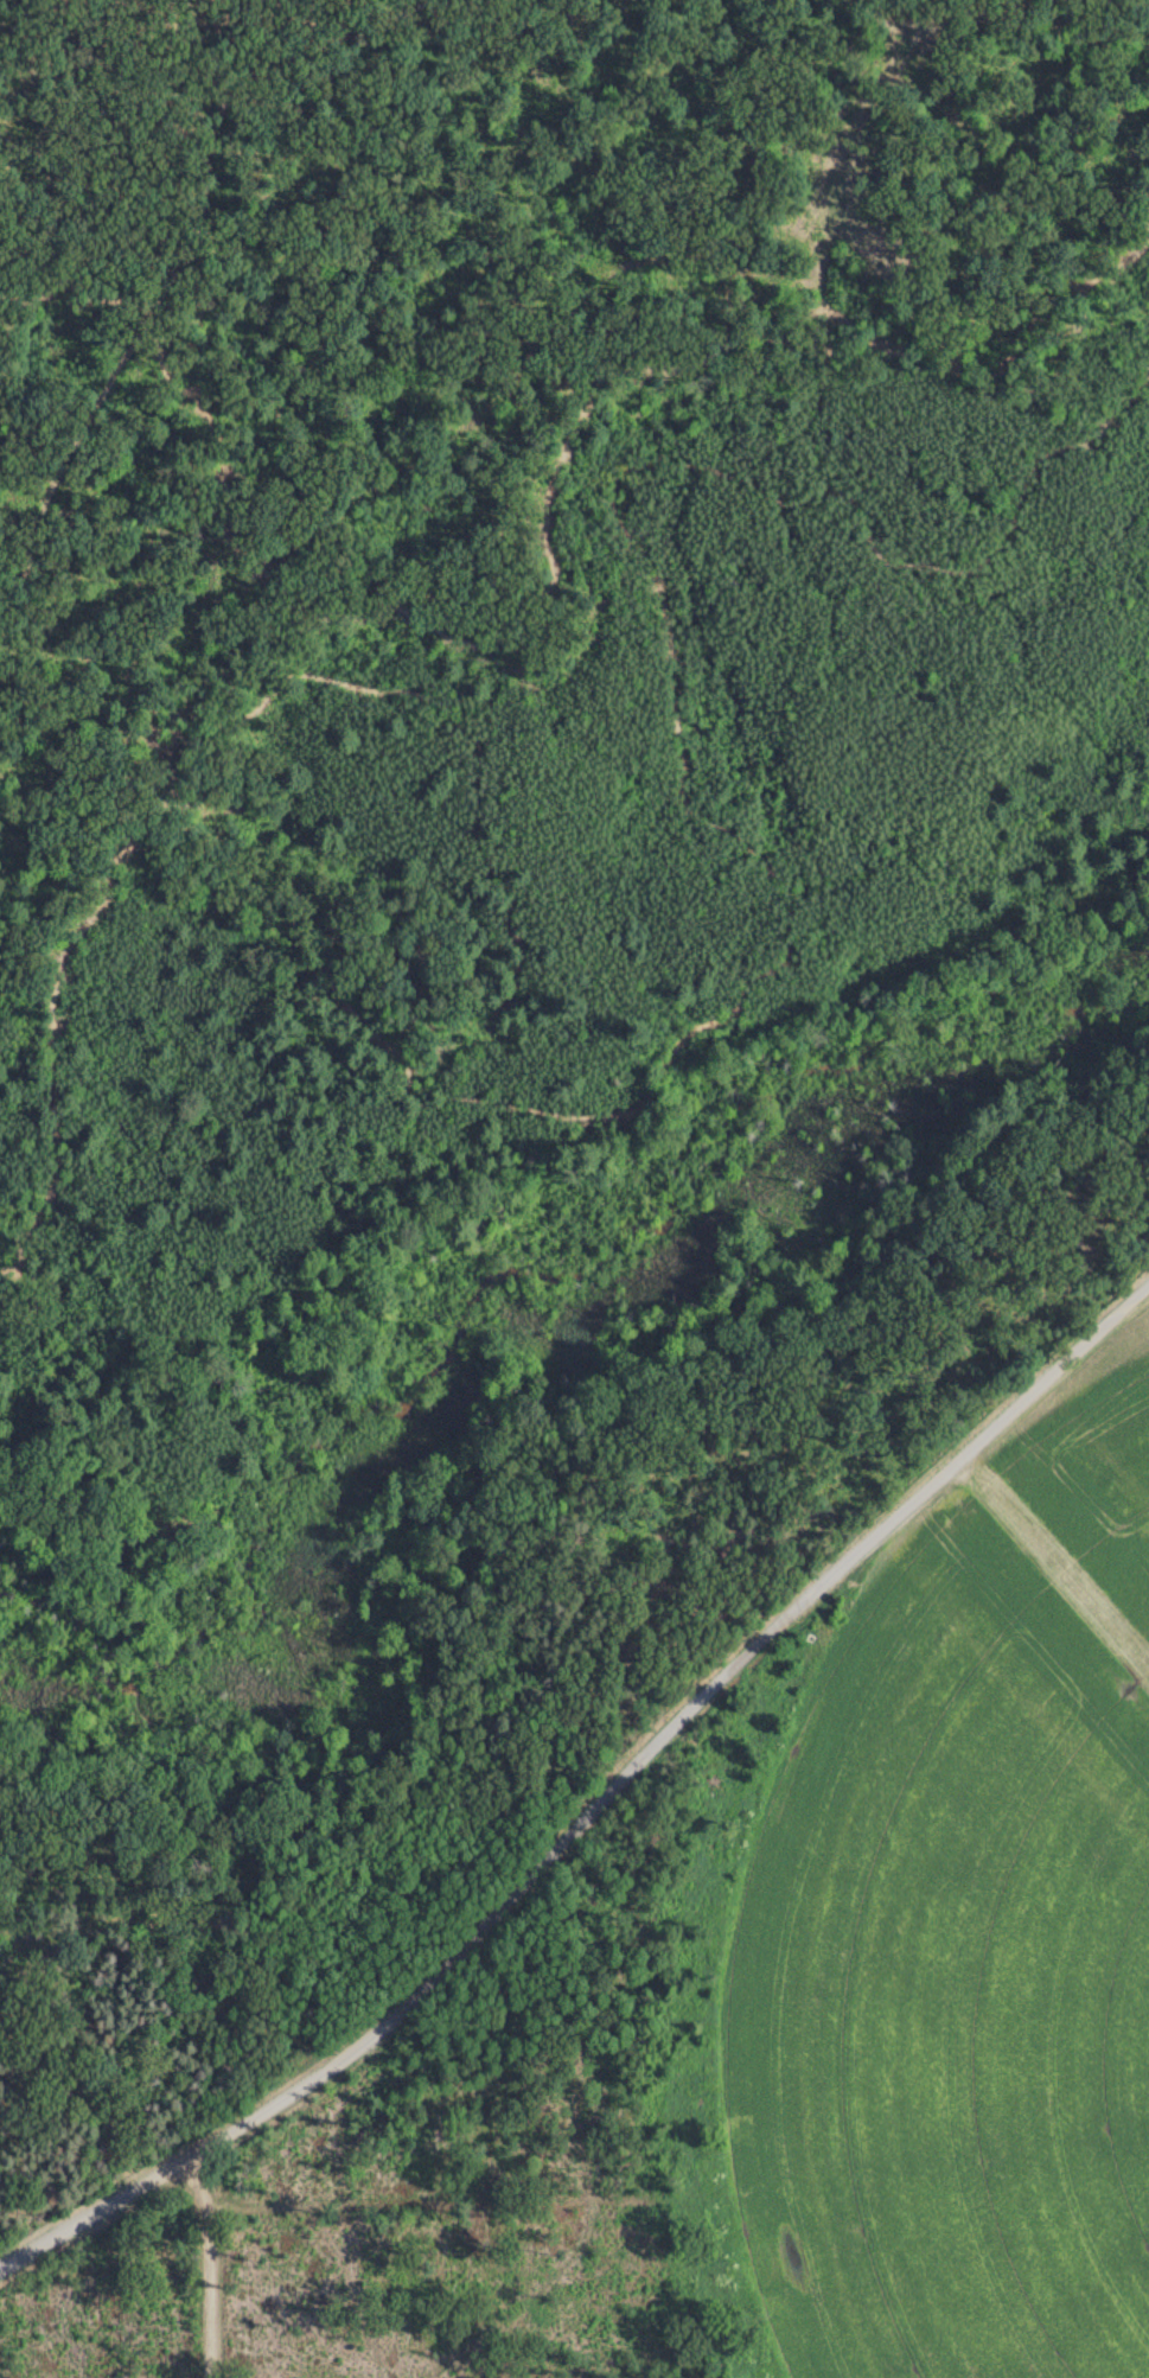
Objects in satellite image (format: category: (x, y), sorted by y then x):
road: (941, 11)
road: (206, 87)
road: (549, 546)
road: (459, 1085)
road: (990, 1448)
road: (538, 1494)
road: (613, 1683)
road: (440, 1965)
wastewater plant: (749, 2028)

